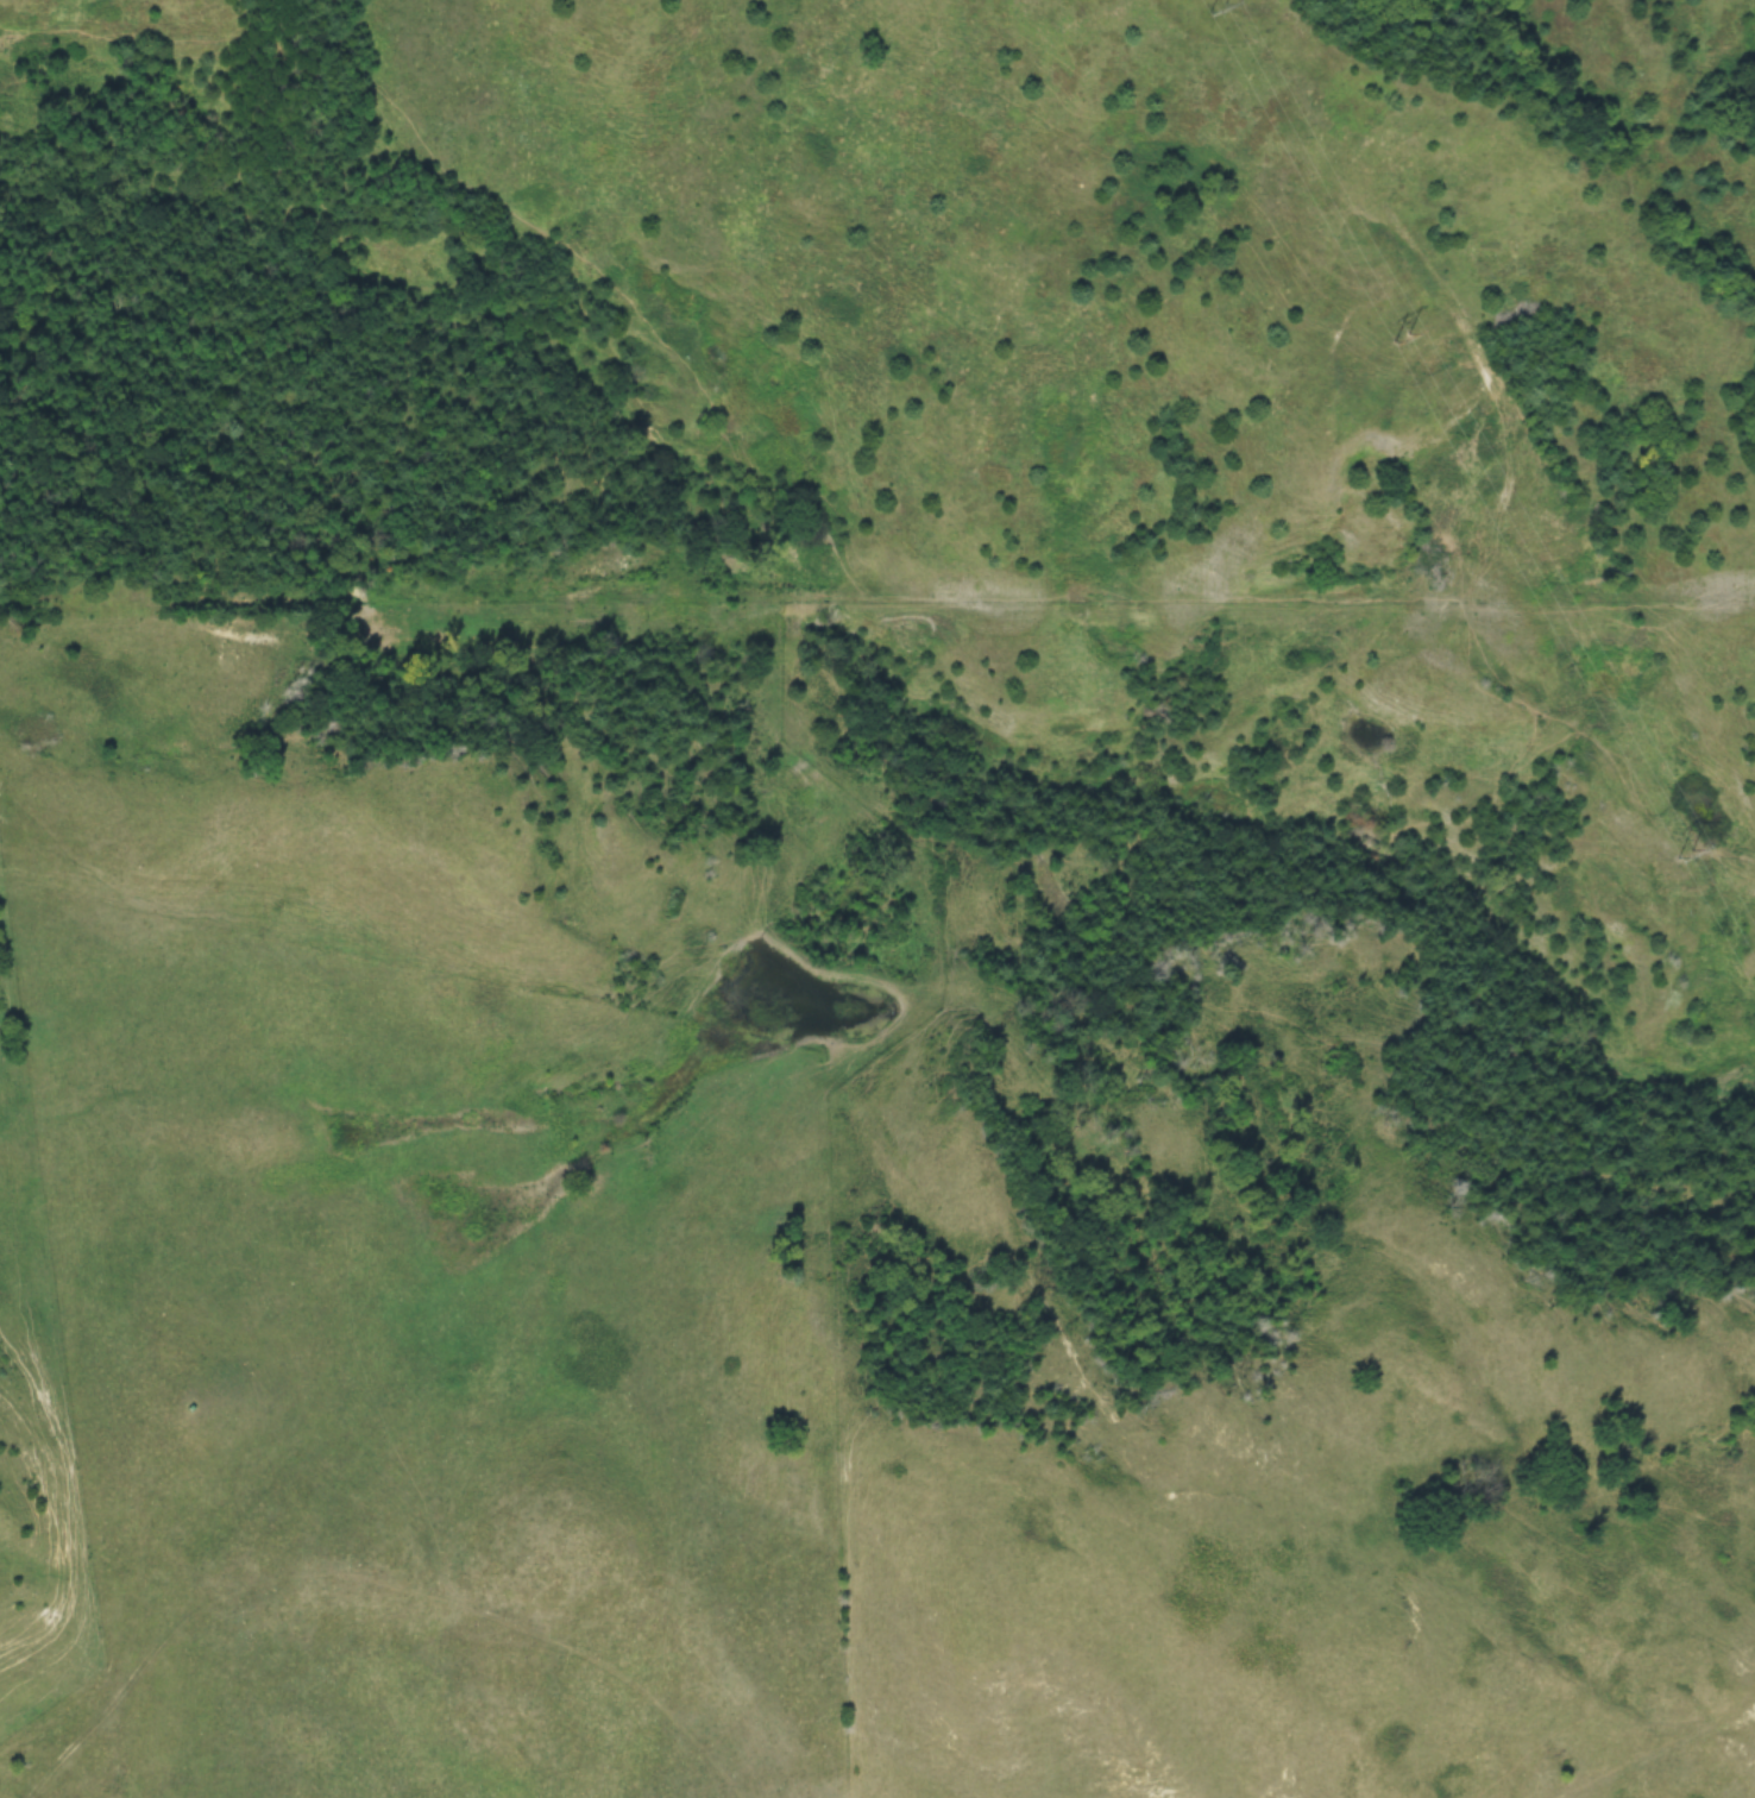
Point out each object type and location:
power tower: (1213, 4)
power tower: (1402, 341)
power tower: (1684, 857)

